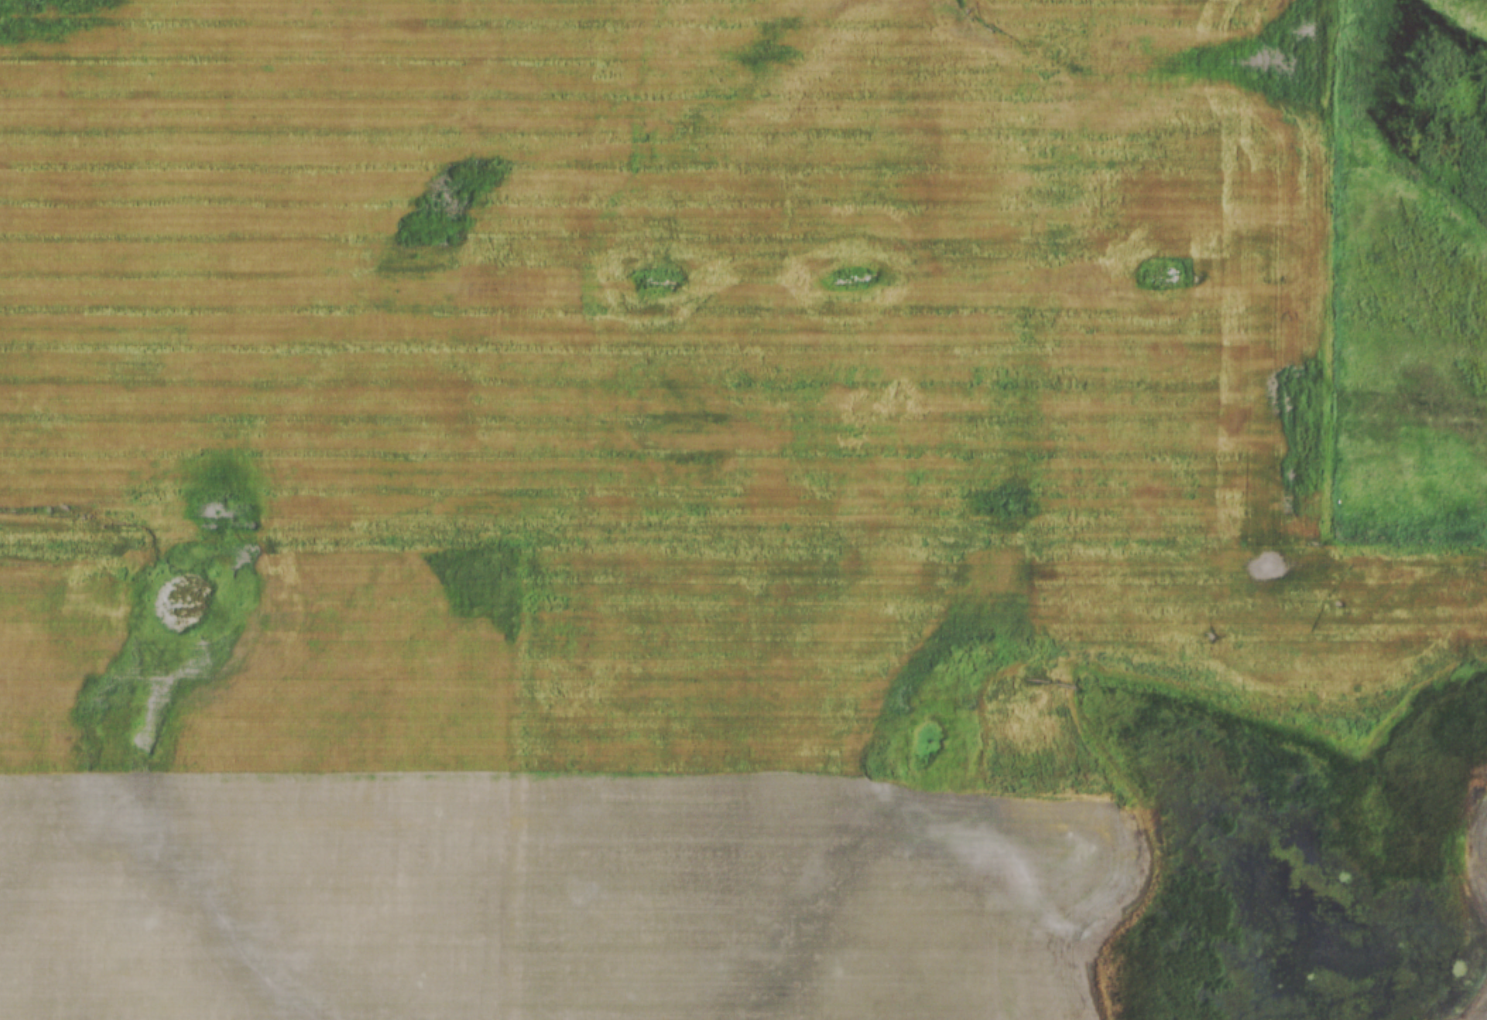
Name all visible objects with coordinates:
airport runway: (1448, 246)

